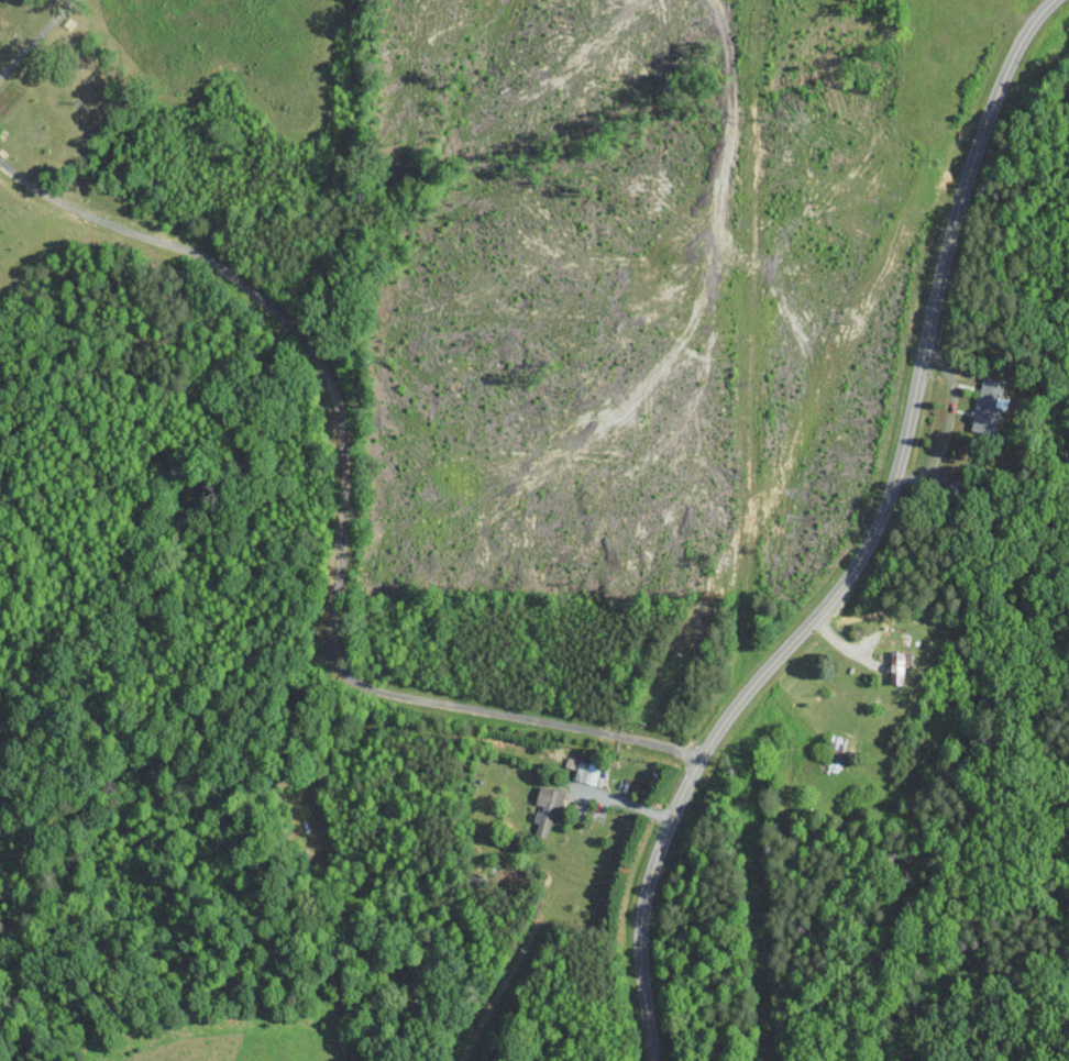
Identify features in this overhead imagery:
road: (34, 35)
building: (987, 405)
road: (947, 423)
road: (343, 512)
road: (864, 550)
building: (582, 770)
road: (614, 799)
building: (545, 807)

